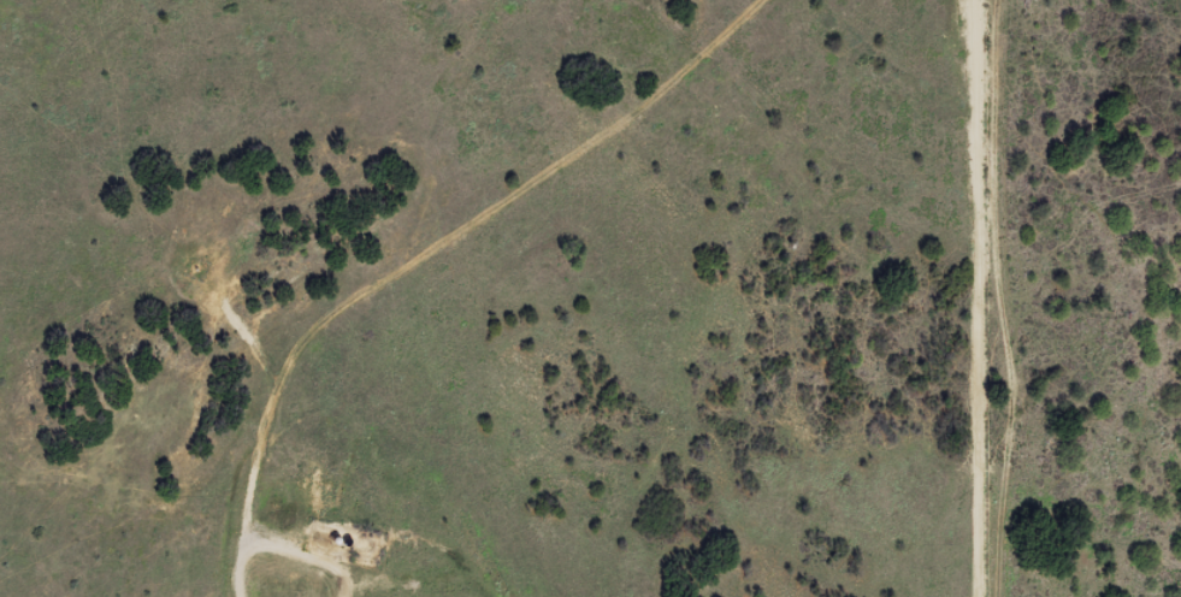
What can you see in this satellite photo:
road: (1120, 144)

